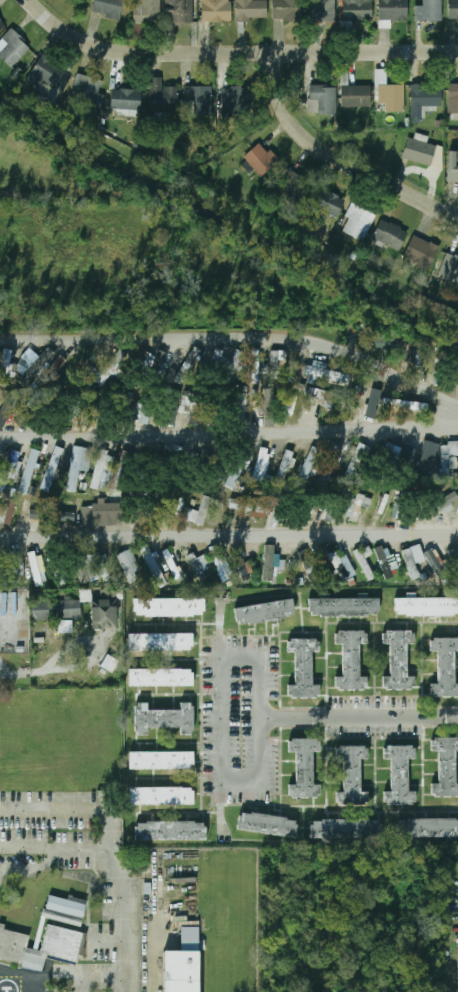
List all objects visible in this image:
building: (108, 8)
building: (287, 9)
building: (252, 10)
building: (324, 10)
building: (357, 10)
building: (393, 10)
building: (429, 10)
building: (453, 10)
building: (180, 11)
building: (216, 11)
building: (147, 12)
building: (2, 25)
building: (13, 48)
road: (234, 55)
building: (46, 73)
building: (88, 91)
building: (453, 92)
building: (163, 96)
building: (357, 97)
building: (392, 97)
building: (200, 99)
building: (126, 100)
building: (323, 100)
building: (424, 100)
building: (235, 101)
building: (419, 151)
building: (261, 159)
road: (340, 159)
building: (453, 169)
building: (294, 187)
building: (328, 203)
river: (225, 217)
building: (358, 221)
building: (390, 234)
building: (421, 251)
building: (451, 268)
road: (235, 336)
building: (384, 343)
building: (0, 354)
building: (415, 358)
building: (34, 359)
building: (145, 359)
building: (218, 359)
building: (57, 365)
building: (276, 365)
building: (5, 366)
building: (32, 367)
building: (188, 367)
building: (235, 367)
building: (328, 374)
building: (322, 396)
building: (373, 403)
building: (405, 405)
building: (77, 407)
building: (242, 407)
building: (192, 411)
building: (266, 411)
building: (6, 413)
building: (142, 413)
road: (229, 432)
building: (390, 448)
building: (415, 456)
building: (449, 459)
building: (357, 460)
building: (331, 462)
building: (13, 464)
building: (285, 464)
building: (79, 465)
building: (105, 465)
building: (53, 467)
building: (261, 467)
building: (122, 470)
building: (29, 471)
building: (233, 477)
building: (445, 501)
building: (250, 505)
building: (357, 506)
building: (201, 510)
building: (108, 512)
building: (7, 513)
building: (37, 513)
building: (328, 514)
building: (456, 514)
building: (63, 516)
road: (228, 534)
building: (453, 557)
building: (411, 558)
building: (307, 560)
building: (365, 560)
building: (385, 561)
building: (337, 562)
building: (269, 563)
building: (436, 564)
building: (221, 565)
building: (101, 566)
building: (130, 566)
building: (154, 566)
building: (197, 566)
building: (37, 568)
building: (83, 568)
building: (245, 569)
building: (19, 572)
building: (61, 574)
building: (344, 607)
building: (426, 607)
building: (169, 608)
building: (56, 609)
building: (265, 612)
building: (105, 614)
building: (65, 626)
road: (85, 639)
building: (161, 642)
building: (350, 660)
building: (399, 661)
road: (223, 662)
building: (109, 663)
building: (445, 667)
building: (303, 669)
road: (37, 673)
building: (161, 678)
road: (359, 717)
building: (163, 718)
building: (162, 760)
building: (446, 765)
building: (304, 767)
building: (352, 774)
building: (399, 774)
building: (162, 796)
road: (52, 809)
building: (268, 824)
building: (428, 828)
building: (347, 829)
building: (171, 831)
road: (52, 846)
road: (36, 869)
road: (121, 899)
building: (66, 905)
building: (37, 937)
building: (58, 948)
building: (182, 971)
road: (99, 979)
street lamp: (113, 990)
helipad: (6, 991)

